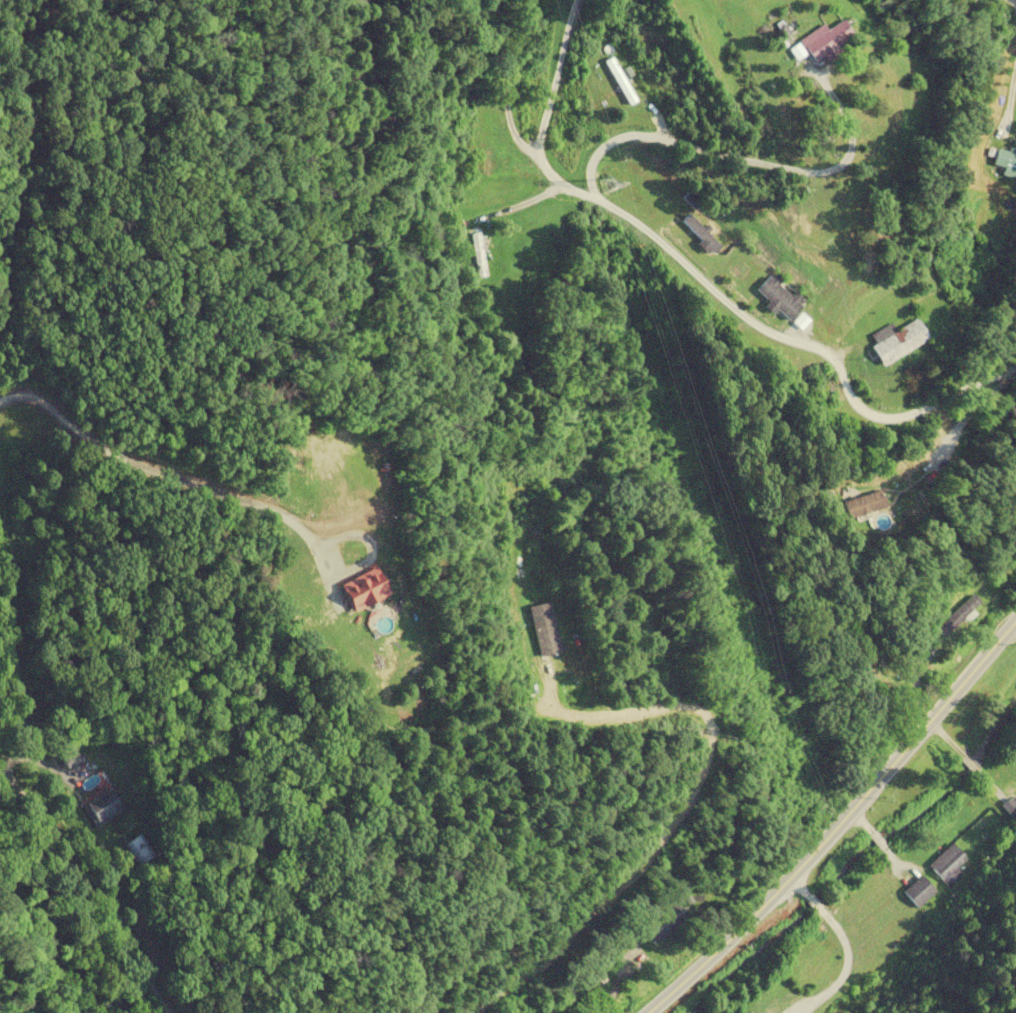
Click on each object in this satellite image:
building: (827, 42)
building: (620, 82)
building: (1007, 162)
power tower: (604, 186)
building: (701, 234)
building: (478, 256)
road: (704, 283)
building: (780, 297)
building: (802, 322)
building: (899, 341)
road: (187, 482)
building: (870, 506)
building: (366, 590)
building: (960, 616)
building: (546, 631)
building: (72, 759)
building: (104, 806)
building: (1009, 808)
road: (839, 824)
building: (138, 849)
building: (948, 864)
road: (86, 883)
building: (919, 891)
building: (666, 922)

